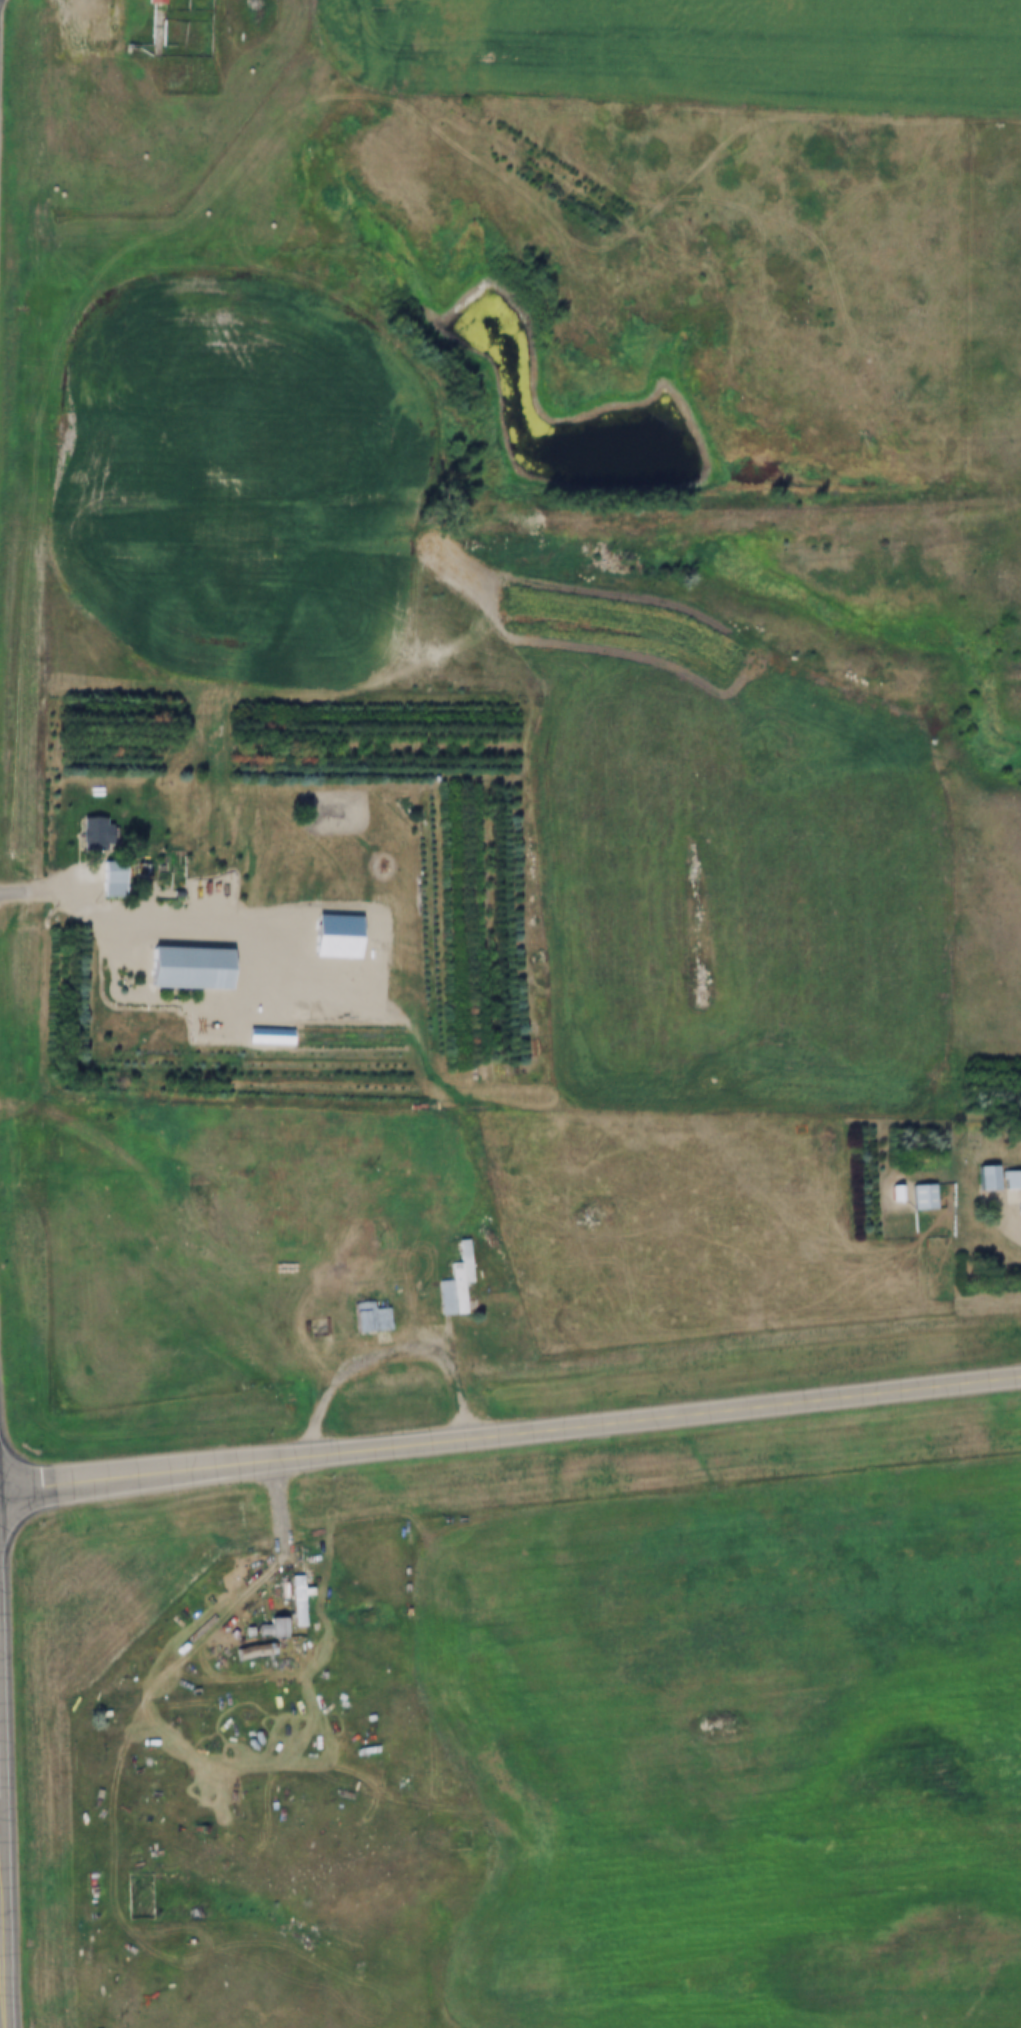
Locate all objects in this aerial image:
building: (155, 2)
building: (92, 834)
building: (111, 878)
building: (185, 968)
building: (386, 1123)
building: (986, 1178)
building: (1011, 1180)
building: (922, 1196)
road: (1011, 1211)
building: (456, 1282)
road: (818, 1303)
building: (367, 1318)
road: (395, 1353)
road: (510, 1436)
road: (285, 1557)
road: (0, 2024)

